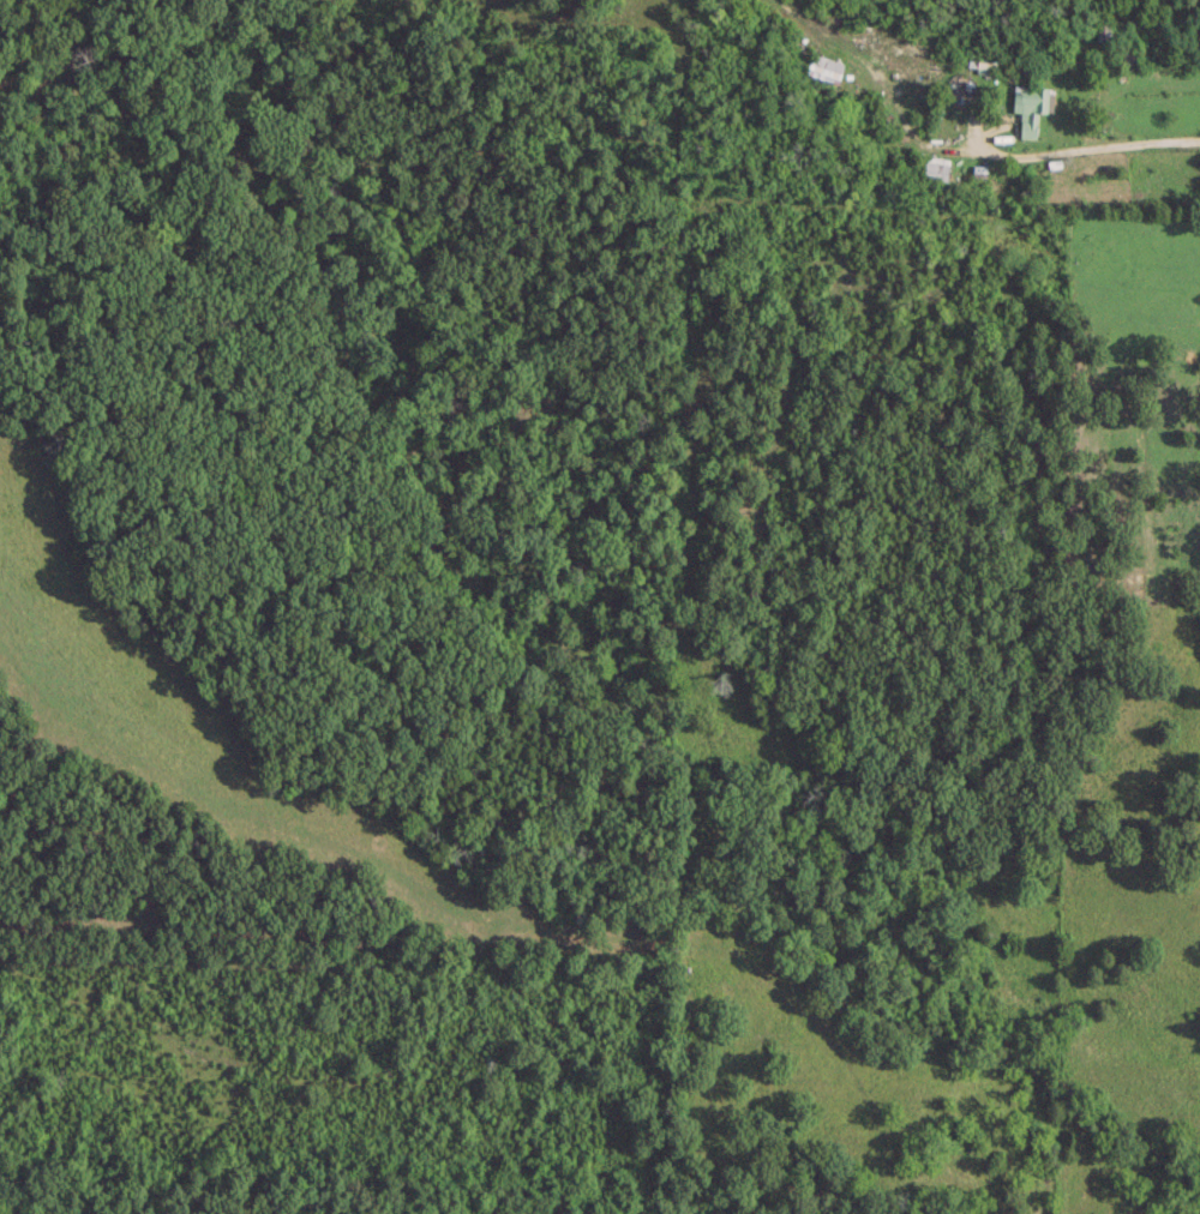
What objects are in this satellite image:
building: (980, 60)
building: (823, 66)
building: (1028, 106)
road: (1087, 148)
building: (935, 167)

